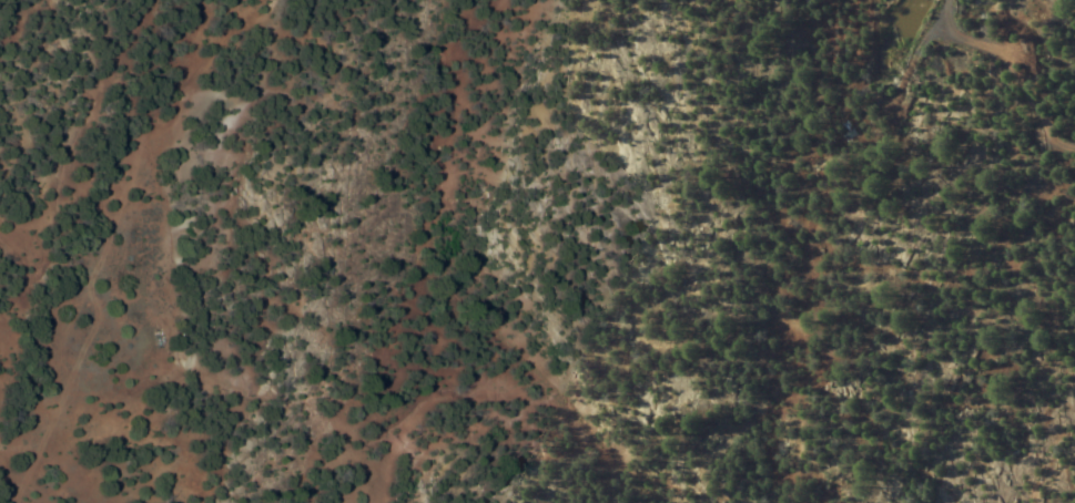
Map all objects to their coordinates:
road: (997, 63)

